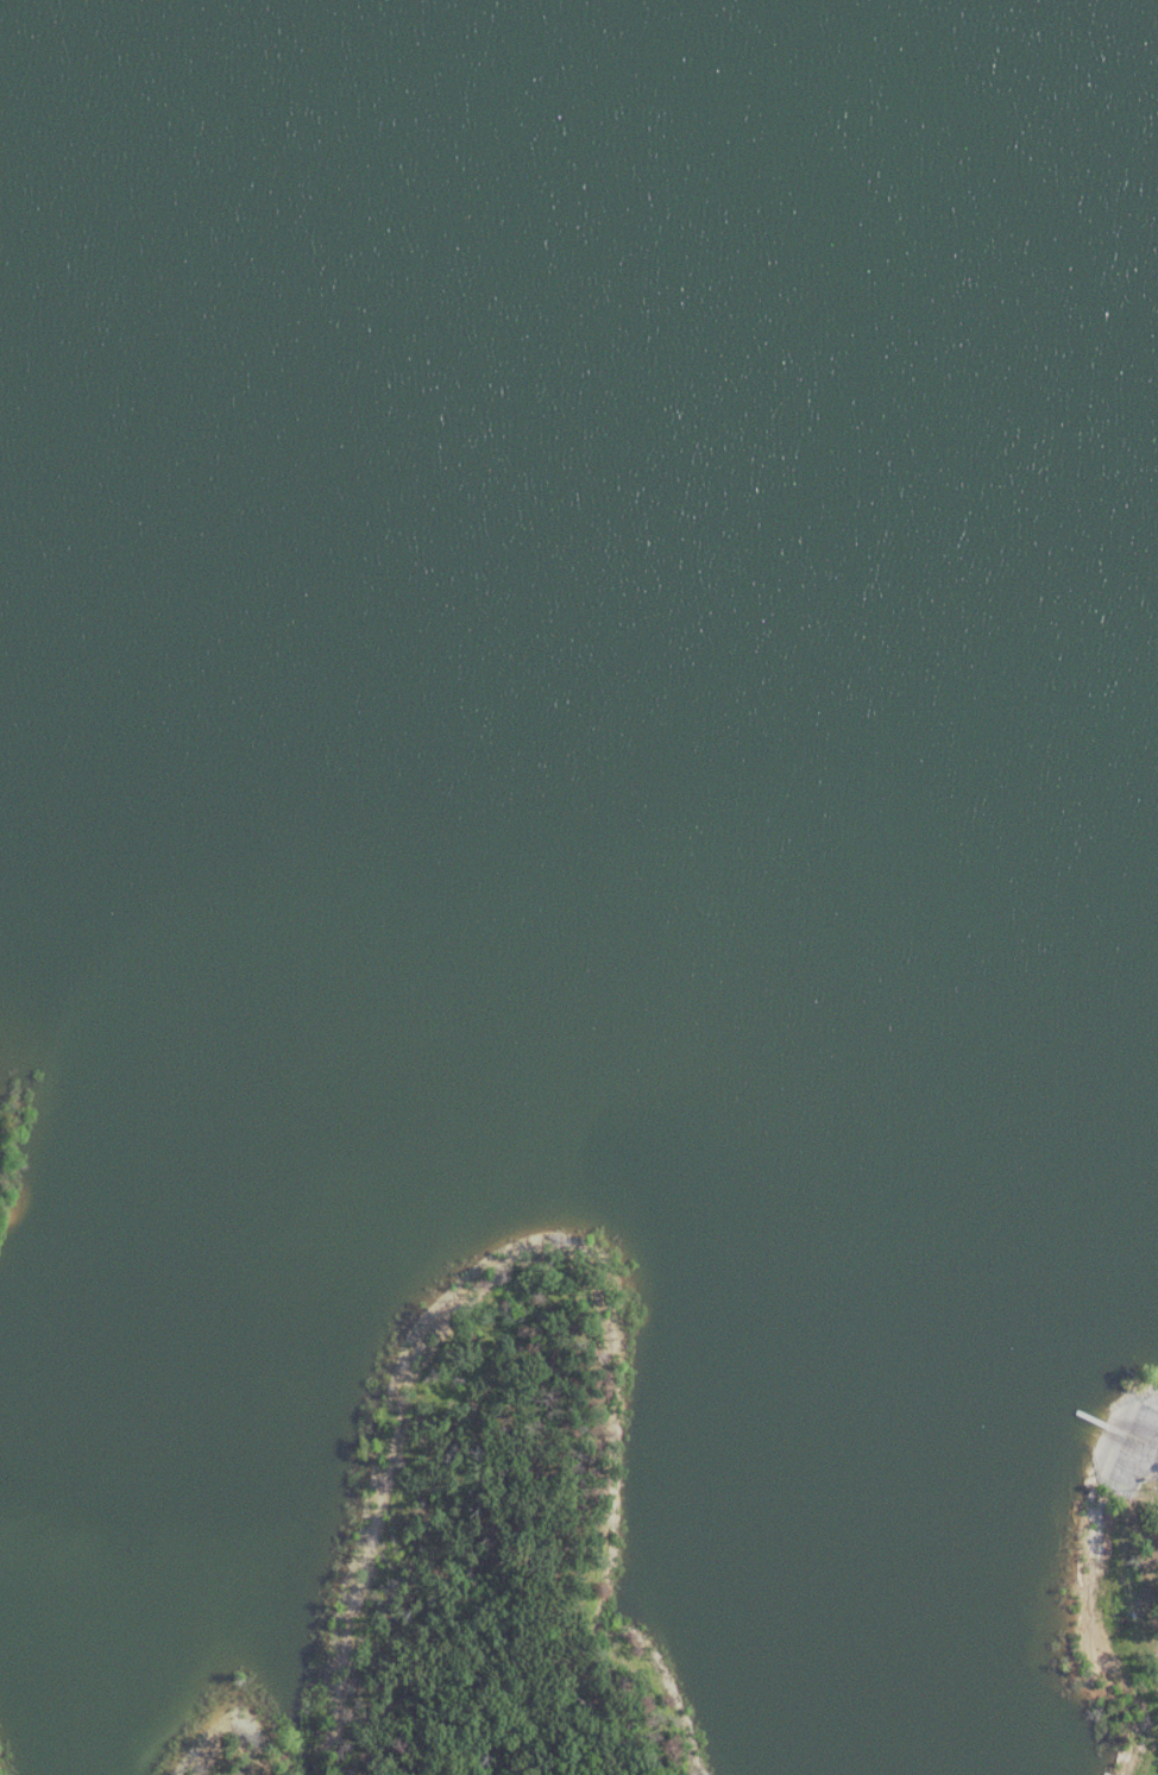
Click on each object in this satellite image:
road: (1150, 1442)
road: (1134, 1443)

